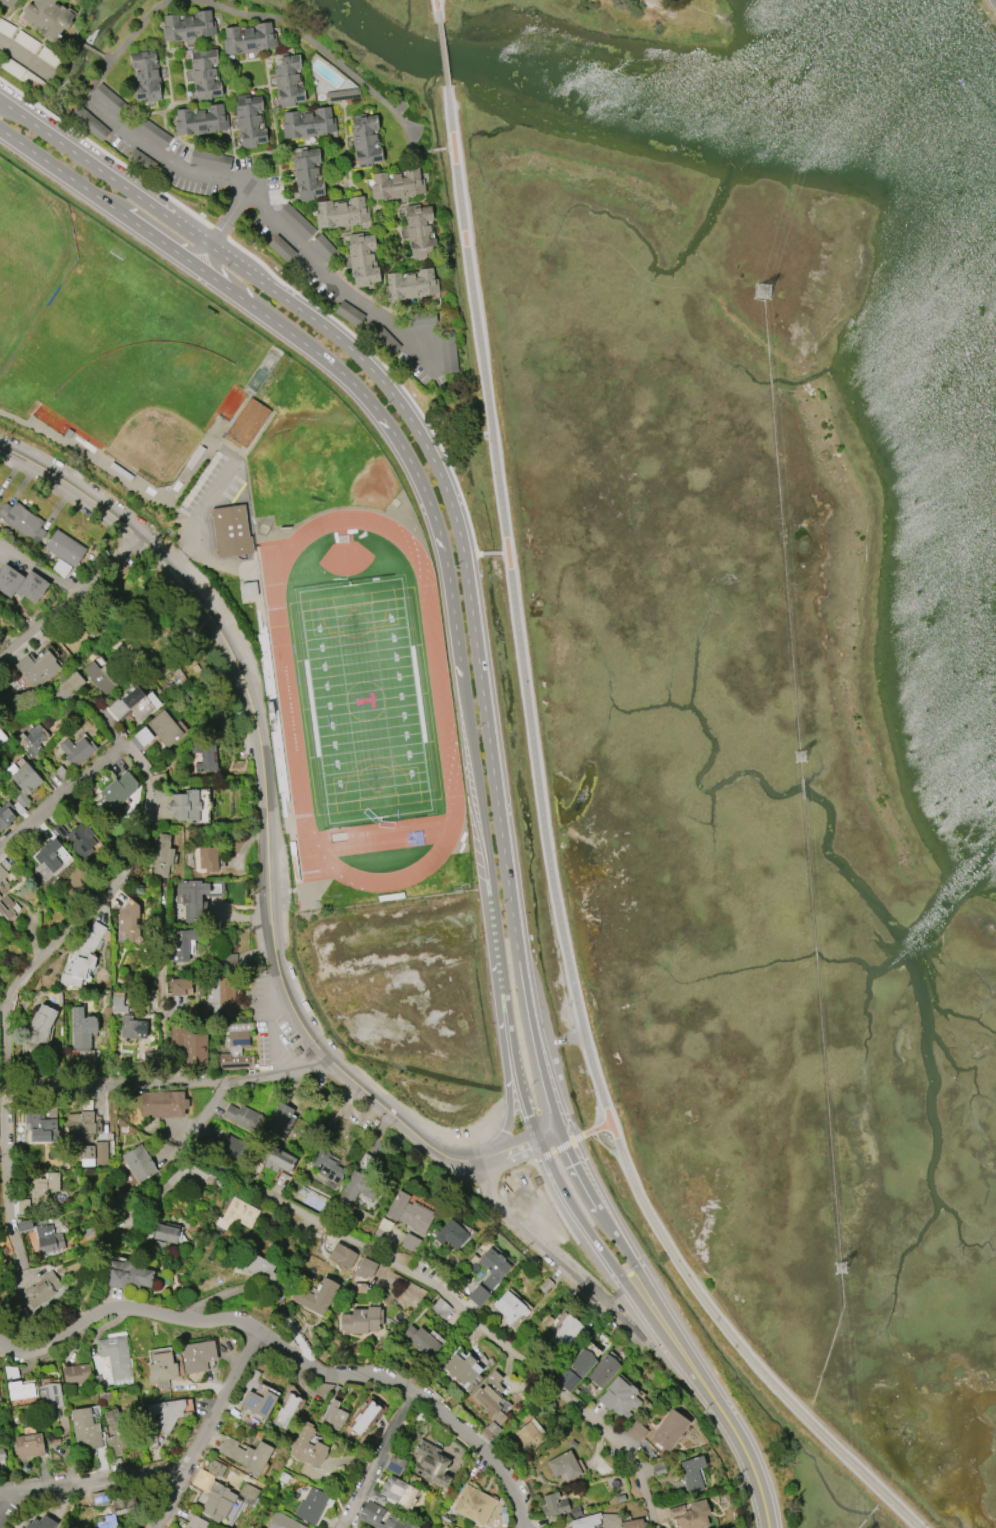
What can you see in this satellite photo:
building: (7, 3)
road: (438, 10)
road: (668, 10)
building: (47, 18)
park: (630, 19)
building: (189, 26)
building: (249, 39)
road: (316, 44)
road: (444, 54)
road: (26, 59)
building: (205, 73)
building: (146, 75)
building: (289, 80)
building: (343, 95)
building: (201, 119)
building: (250, 120)
building: (308, 124)
building: (366, 140)
building: (210, 159)
road: (61, 172)
building: (307, 173)
road: (212, 174)
building: (397, 185)
building: (342, 213)
road: (223, 230)
building: (421, 231)
road: (160, 241)
building: (363, 259)
road: (280, 281)
building: (411, 285)
power tower: (765, 293)
building: (349, 313)
building: (449, 355)
building: (247, 421)
road: (393, 432)
park: (153, 442)
road: (437, 471)
parking lot: (216, 485)
building: (0, 489)
road: (195, 515)
building: (22, 521)
building: (230, 529)
building: (65, 548)
road: (491, 553)
road: (505, 553)
road: (472, 554)
road: (510, 562)
road: (37, 570)
building: (9, 579)
building: (31, 587)
building: (247, 587)
road: (70, 596)
building: (75, 635)
building: (38, 669)
building: (105, 676)
building: (75, 681)
park: (363, 699)
track: (439, 699)
building: (136, 704)
building: (165, 728)
building: (144, 736)
building: (2, 737)
building: (33, 740)
building: (78, 751)
building: (205, 756)
power tower: (802, 759)
building: (62, 772)
building: (25, 777)
road: (63, 797)
building: (117, 798)
building: (191, 806)
building: (11, 811)
road: (265, 838)
building: (78, 839)
building: (162, 855)
building: (50, 856)
building: (206, 859)
building: (4, 869)
building: (0, 884)
road: (142, 885)
building: (0, 895)
building: (0, 896)
building: (199, 896)
road: (97, 905)
building: (6, 907)
road: (493, 908)
building: (130, 920)
building: (182, 945)
building: (82, 957)
building: (180, 986)
road: (166, 988)
building: (227, 996)
building: (118, 1003)
road: (270, 1022)
building: (133, 1027)
building: (40, 1028)
road: (499, 1028)
building: (82, 1029)
road: (575, 1037)
road: (547, 1042)
building: (189, 1045)
building: (236, 1047)
road: (595, 1078)
road: (167, 1084)
road: (539, 1087)
building: (162, 1104)
building: (244, 1118)
building: (280, 1119)
building: (83, 1123)
building: (41, 1127)
road: (596, 1129)
building: (227, 1146)
road: (539, 1146)
road: (563, 1147)
building: (93, 1154)
building: (276, 1158)
road: (539, 1158)
building: (138, 1163)
building: (326, 1166)
building: (358, 1187)
building: (44, 1188)
road: (278, 1196)
road: (537, 1196)
road: (553, 1202)
building: (23, 1207)
building: (409, 1213)
building: (237, 1214)
road: (539, 1217)
building: (382, 1228)
building: (165, 1233)
building: (451, 1234)
building: (48, 1240)
building: (411, 1243)
building: (342, 1255)
road: (553, 1256)
building: (366, 1268)
power tower: (843, 1268)
road: (639, 1270)
building: (263, 1272)
building: (128, 1274)
building: (488, 1276)
building: (547, 1285)
building: (41, 1290)
road: (625, 1290)
building: (316, 1296)
building: (511, 1307)
building: (360, 1320)
building: (568, 1332)
building: (421, 1341)
road: (737, 1343)
road: (289, 1355)
building: (115, 1356)
building: (197, 1356)
road: (533, 1367)
building: (462, 1368)
building: (161, 1369)
building: (576, 1370)
building: (603, 1372)
building: (76, 1373)
building: (20, 1390)
building: (50, 1396)
building: (105, 1396)
building: (490, 1397)
building: (620, 1397)
building: (258, 1403)
building: (287, 1411)
building: (166, 1414)
building: (334, 1414)
building: (365, 1418)
road: (207, 1428)
building: (85, 1429)
building: (670, 1430)
building: (490, 1431)
building: (120, 1432)
building: (636, 1432)
building: (531, 1433)
building: (28, 1445)
building: (307, 1446)
building: (2, 1454)
building: (246, 1455)
road: (381, 1459)
building: (395, 1464)
building: (431, 1464)
building: (564, 1466)
road: (753, 1468)
building: (693, 1474)
road: (93, 1482)
road: (643, 1483)
building: (388, 1490)
building: (213, 1491)
building: (248, 1493)
road: (1, 1500)
building: (122, 1504)
building: (473, 1504)
building: (311, 1505)
building: (558, 1506)
building: (372, 1512)
building: (689, 1517)
building: (38, 1522)
building: (196, 1522)
building: (283, 1522)
building: (608, 1522)

